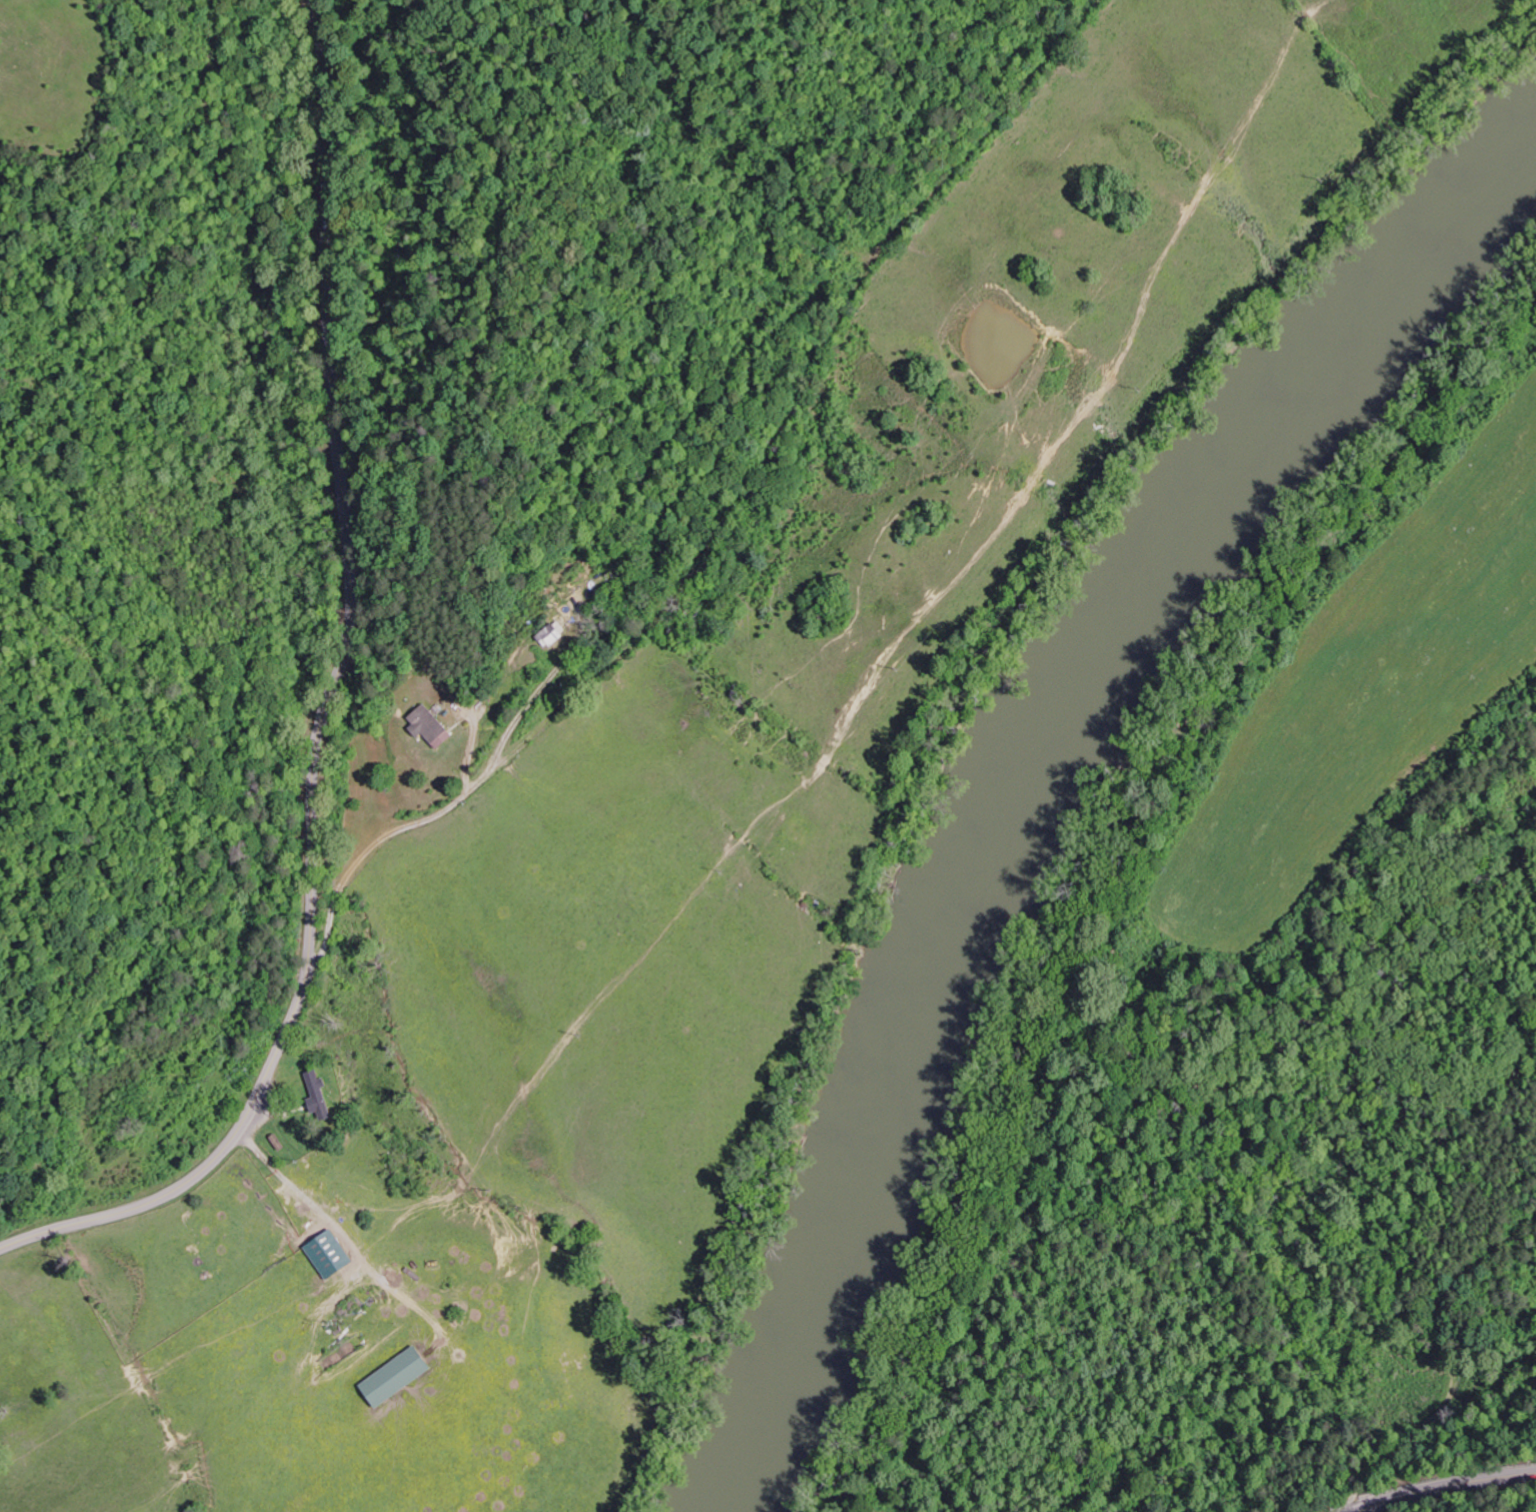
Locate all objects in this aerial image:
building: (556, 634)
road: (325, 707)
building: (433, 728)
road: (356, 740)
river: (1005, 760)
road: (434, 818)
building: (321, 1099)
building: (332, 1256)
building: (399, 1378)
road: (1448, 1487)

